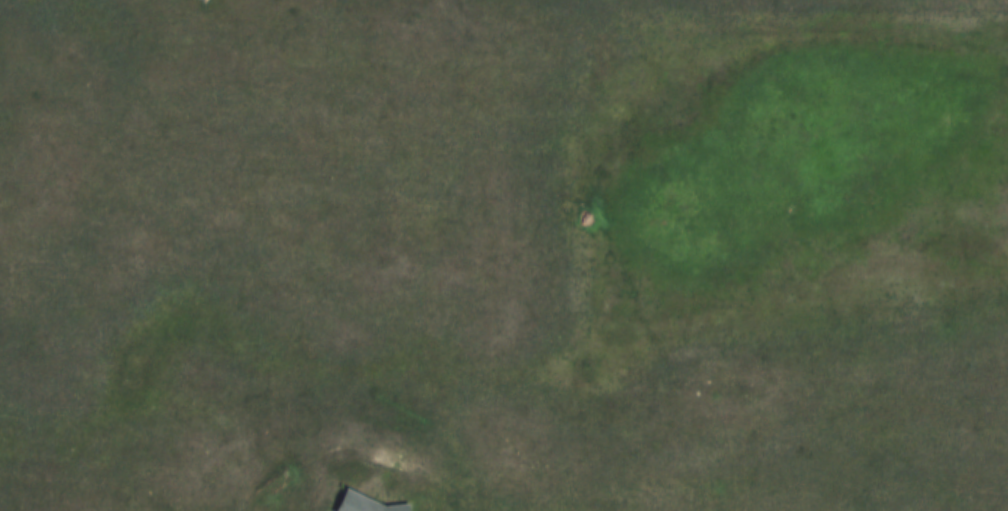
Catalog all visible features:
building: (349, 501)

